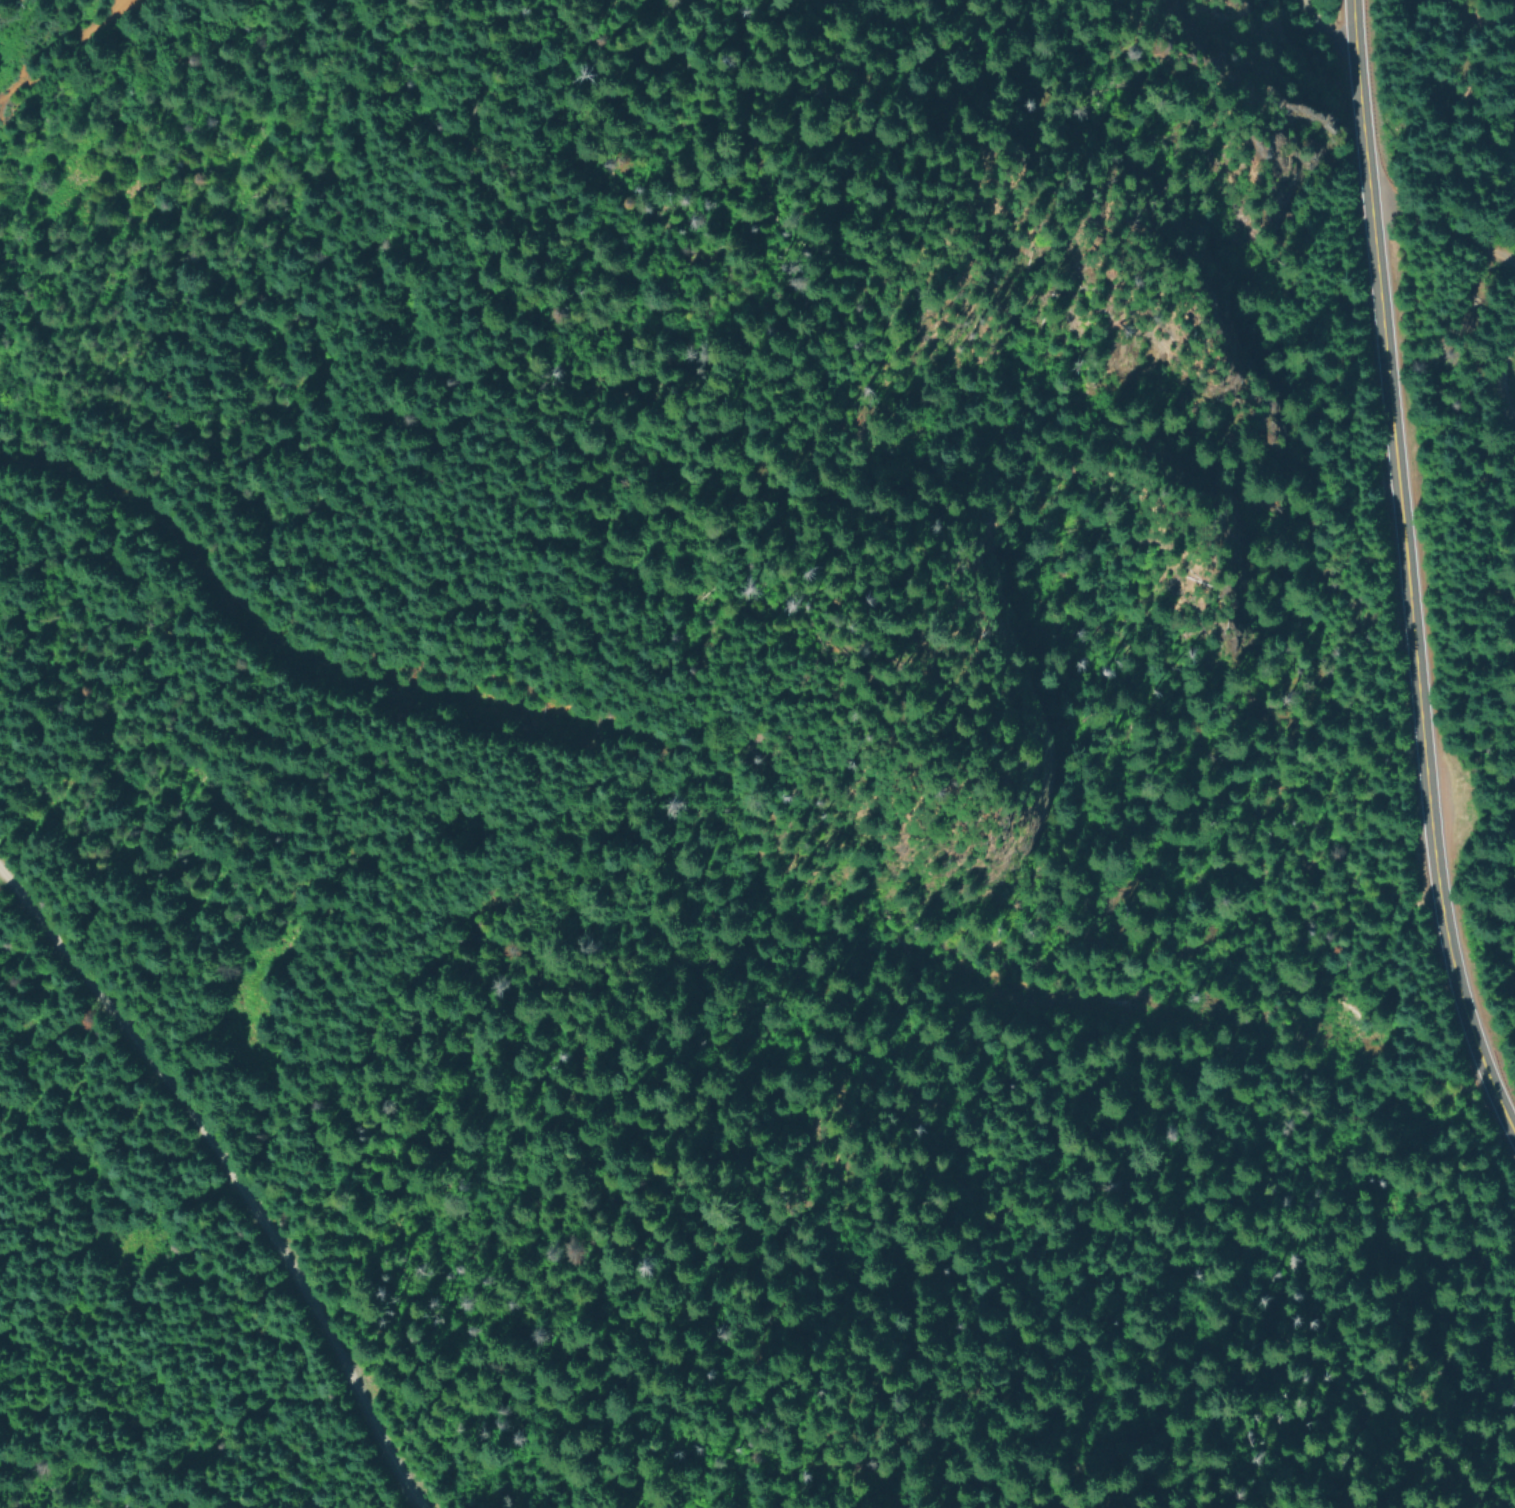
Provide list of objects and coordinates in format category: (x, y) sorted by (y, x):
road: (1318, 26)
road: (1405, 586)
road: (228, 1174)

